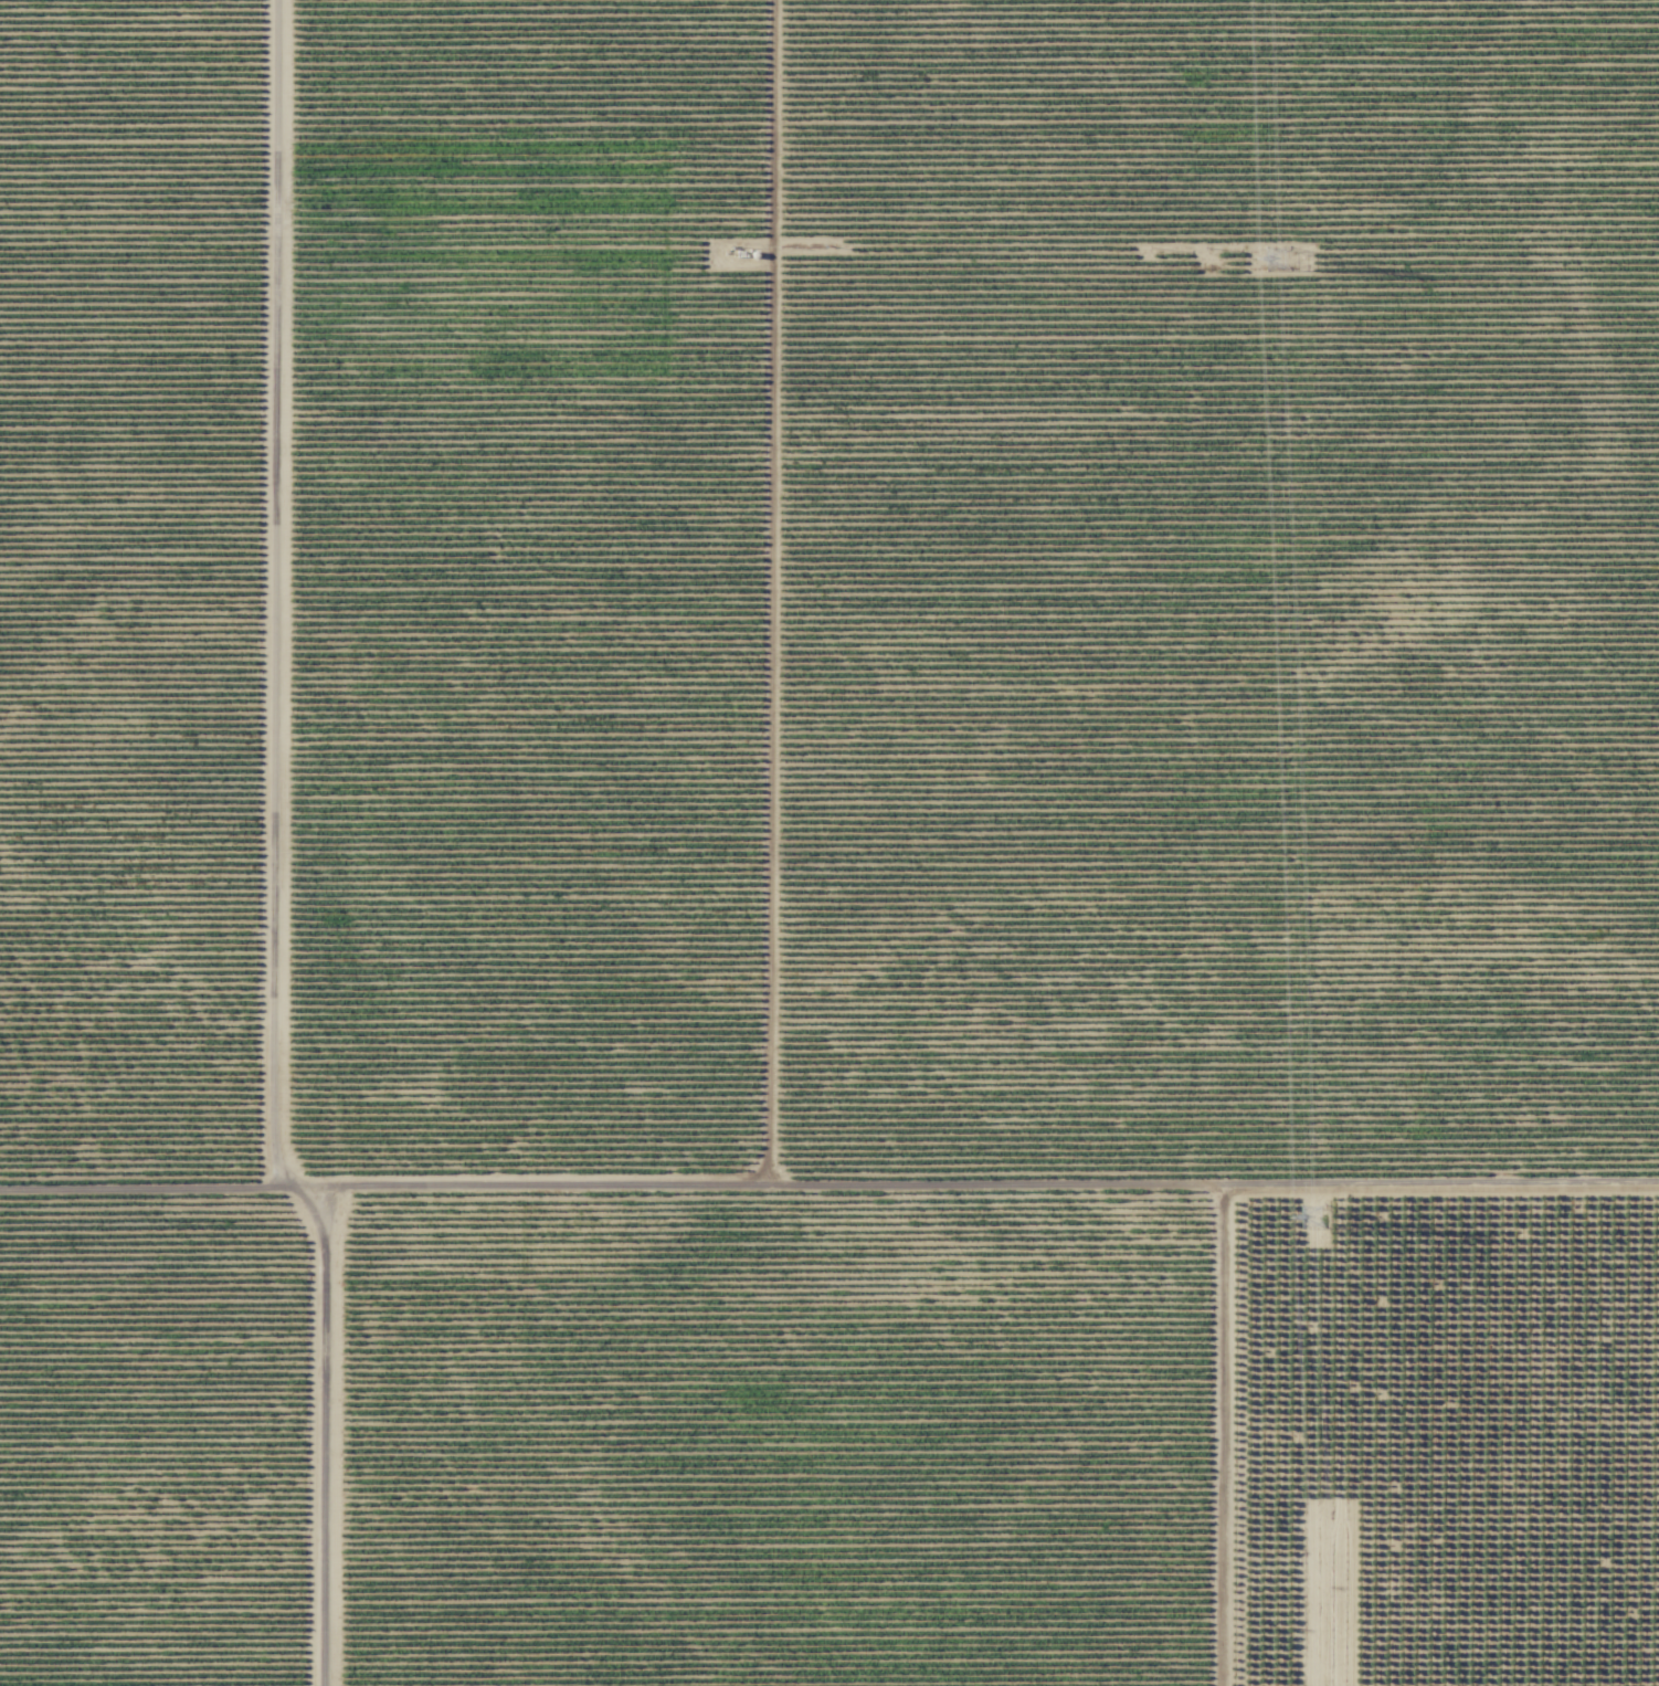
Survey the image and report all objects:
power tower: (1277, 262)
power tower: (1313, 1216)

